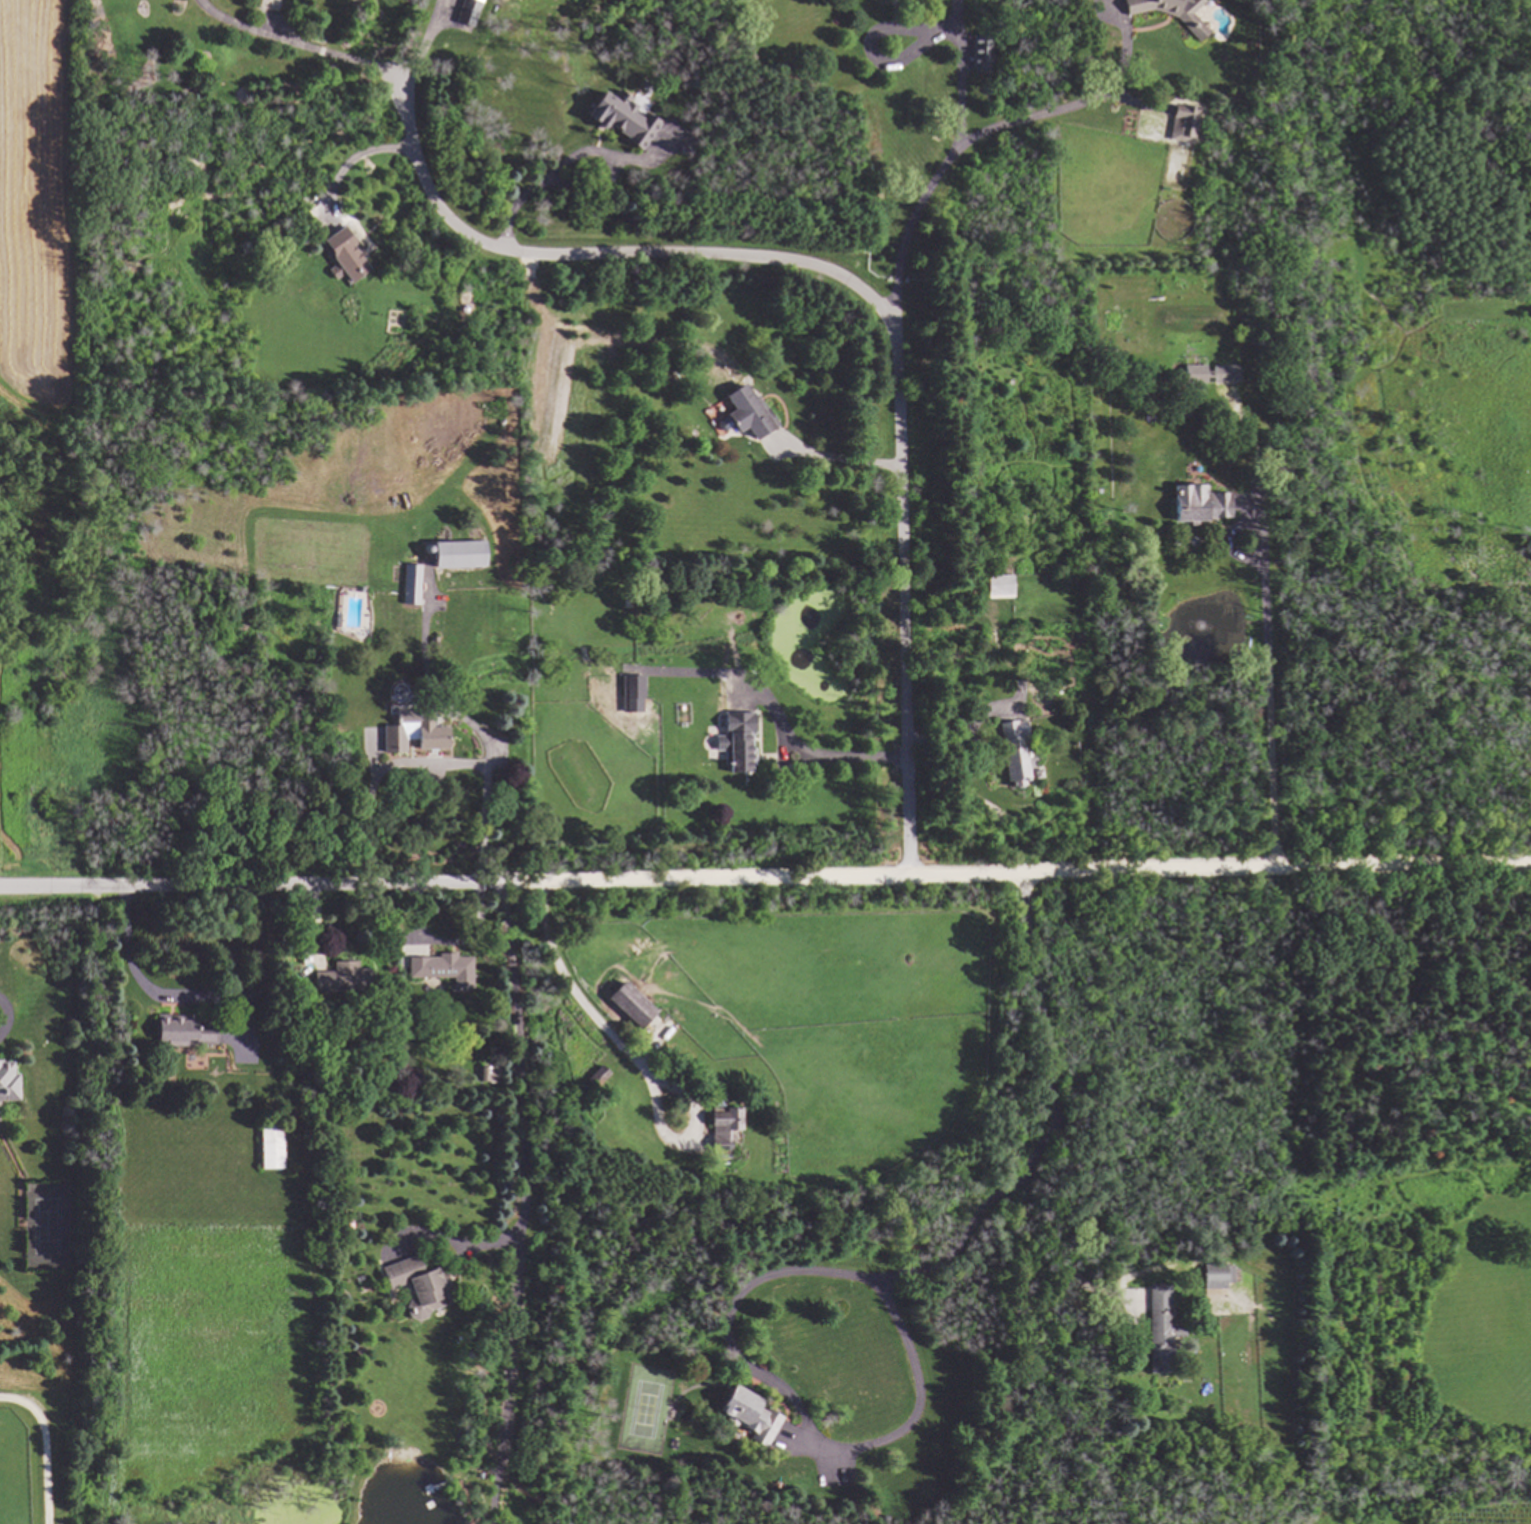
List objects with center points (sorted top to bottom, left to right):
building: (469, 14)
building: (1196, 31)
road: (334, 56)
building: (980, 57)
road: (957, 87)
building: (624, 119)
building: (1183, 125)
road: (964, 138)
road: (575, 156)
road: (353, 159)
building: (349, 258)
road: (874, 295)
building: (1211, 376)
building: (751, 414)
road: (836, 457)
building: (1199, 507)
building: (463, 557)
building: (1002, 588)
building: (635, 696)
road: (1275, 706)
building: (427, 732)
road: (959, 735)
building: (1010, 735)
building: (740, 744)
road: (801, 756)
road: (480, 804)
road: (765, 877)
building: (445, 971)
building: (343, 980)
road: (196, 996)
building: (628, 1004)
road: (4, 1017)
building: (192, 1034)
road: (517, 1049)
road: (630, 1055)
building: (491, 1078)
building: (12, 1082)
road: (1054, 1104)
building: (722, 1129)
building: (275, 1151)
road: (460, 1241)
building: (1216, 1278)
building: (417, 1286)
building: (1159, 1330)
road: (510, 1371)
building: (746, 1414)
road: (898, 1428)
road: (48, 1443)

